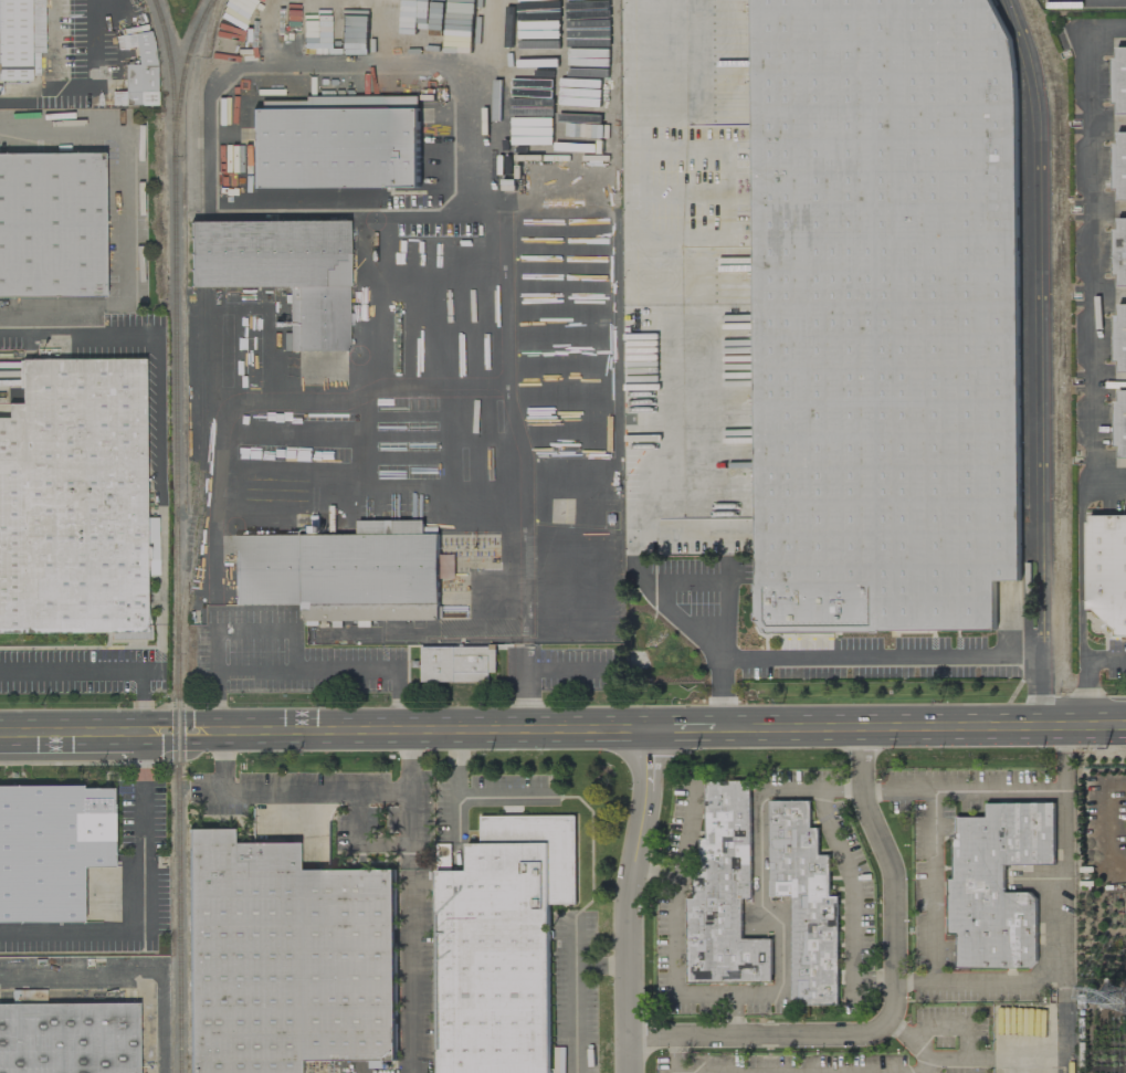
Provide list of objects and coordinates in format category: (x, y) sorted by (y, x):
building: (14, 40)
building: (141, 73)
railway: (182, 75)
railway: (170, 76)
building: (1119, 78)
road: (83, 83)
building: (336, 143)
road: (644, 152)
building: (1119, 167)
road: (319, 210)
road: (123, 219)
building: (52, 225)
building: (1119, 253)
railway: (1022, 254)
road: (1094, 254)
building: (282, 271)
railway: (202, 314)
building: (884, 315)
building: (1119, 339)
road: (1040, 361)
building: (1120, 423)
road: (654, 431)
road: (159, 435)
building: (73, 505)
road: (698, 529)
road: (1081, 569)
building: (1106, 569)
building: (343, 572)
road: (726, 607)
railway: (176, 613)
road: (665, 613)
road: (296, 643)
road: (845, 658)
building: (457, 664)
road: (97, 671)
road: (257, 673)
road: (1086, 673)
road: (533, 685)
road: (917, 728)
road: (684, 729)
road: (403, 730)
road: (73, 733)
road: (317, 792)
building: (51, 850)
road: (854, 883)
building: (997, 884)
road: (762, 891)
building: (724, 894)
road: (631, 900)
road: (145, 901)
building: (806, 902)
road: (677, 938)
building: (501, 944)
building: (287, 961)
road: (126, 975)
road: (914, 986)
road: (957, 988)
road: (572, 993)
power tower: (1112, 1001)
road: (897, 1003)
building: (69, 1038)
road: (916, 1040)
road: (680, 1053)
road: (1029, 1054)

